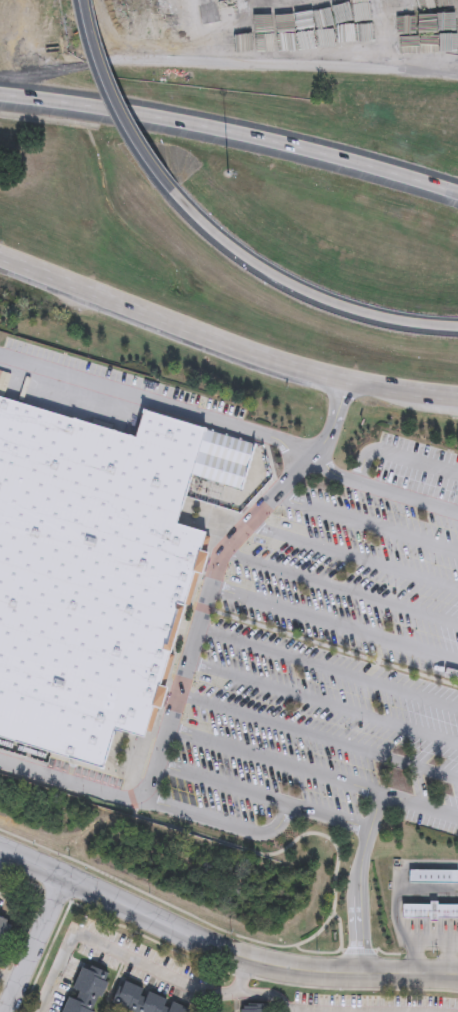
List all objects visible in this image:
road: (111, 100)
road: (230, 131)
road: (297, 288)
road: (225, 338)
road: (156, 403)
road: (424, 408)
road: (396, 455)
road: (381, 491)
road: (367, 523)
road: (354, 556)
building: (96, 567)
road: (341, 588)
road: (334, 626)
road: (328, 668)
road: (180, 688)
road: (323, 701)
road: (276, 762)
road: (224, 784)
road: (73, 785)
road: (367, 842)
road: (5, 861)
building: (435, 876)
building: (431, 911)
building: (4, 928)
road: (212, 940)
road: (36, 942)
road: (449, 969)
road: (243, 973)
road: (449, 975)
road: (172, 978)
road: (8, 981)
building: (85, 989)
building: (145, 999)
building: (254, 1007)
building: (117, 1011)

